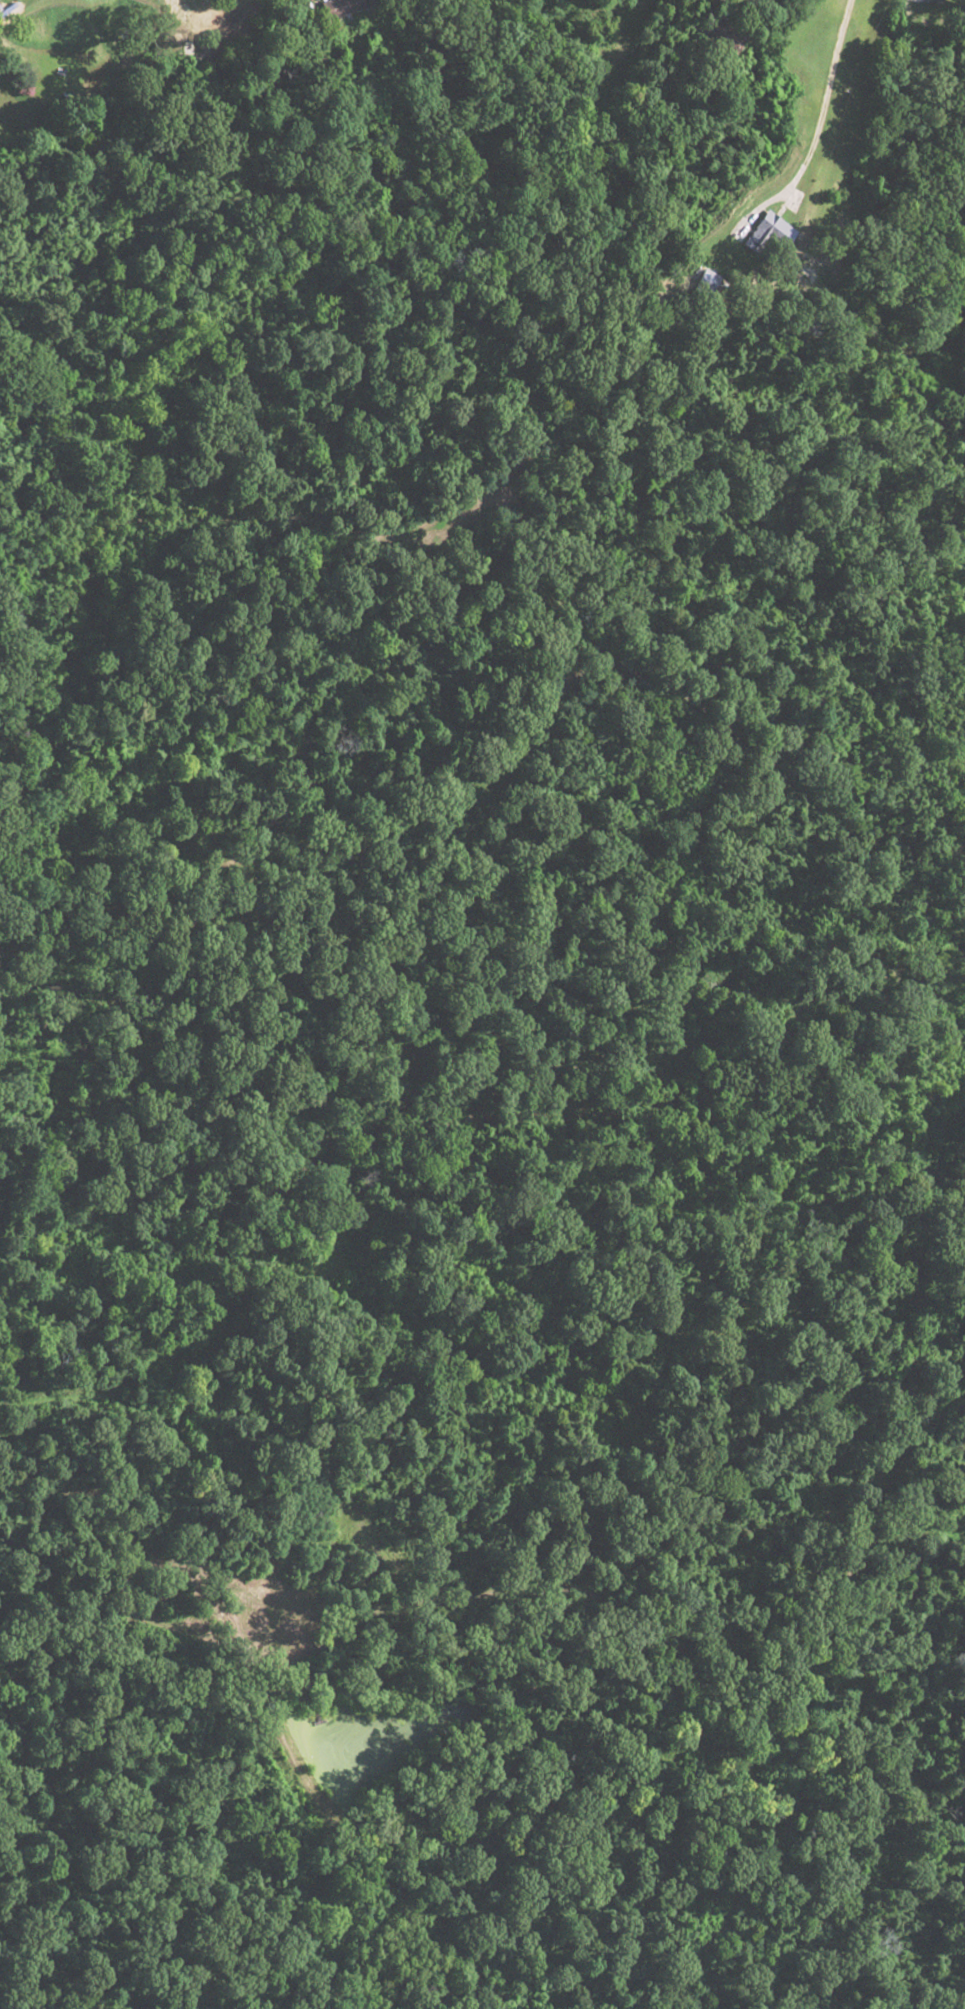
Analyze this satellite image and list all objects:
building: (338, 7)
road: (600, 74)
building: (702, 286)

